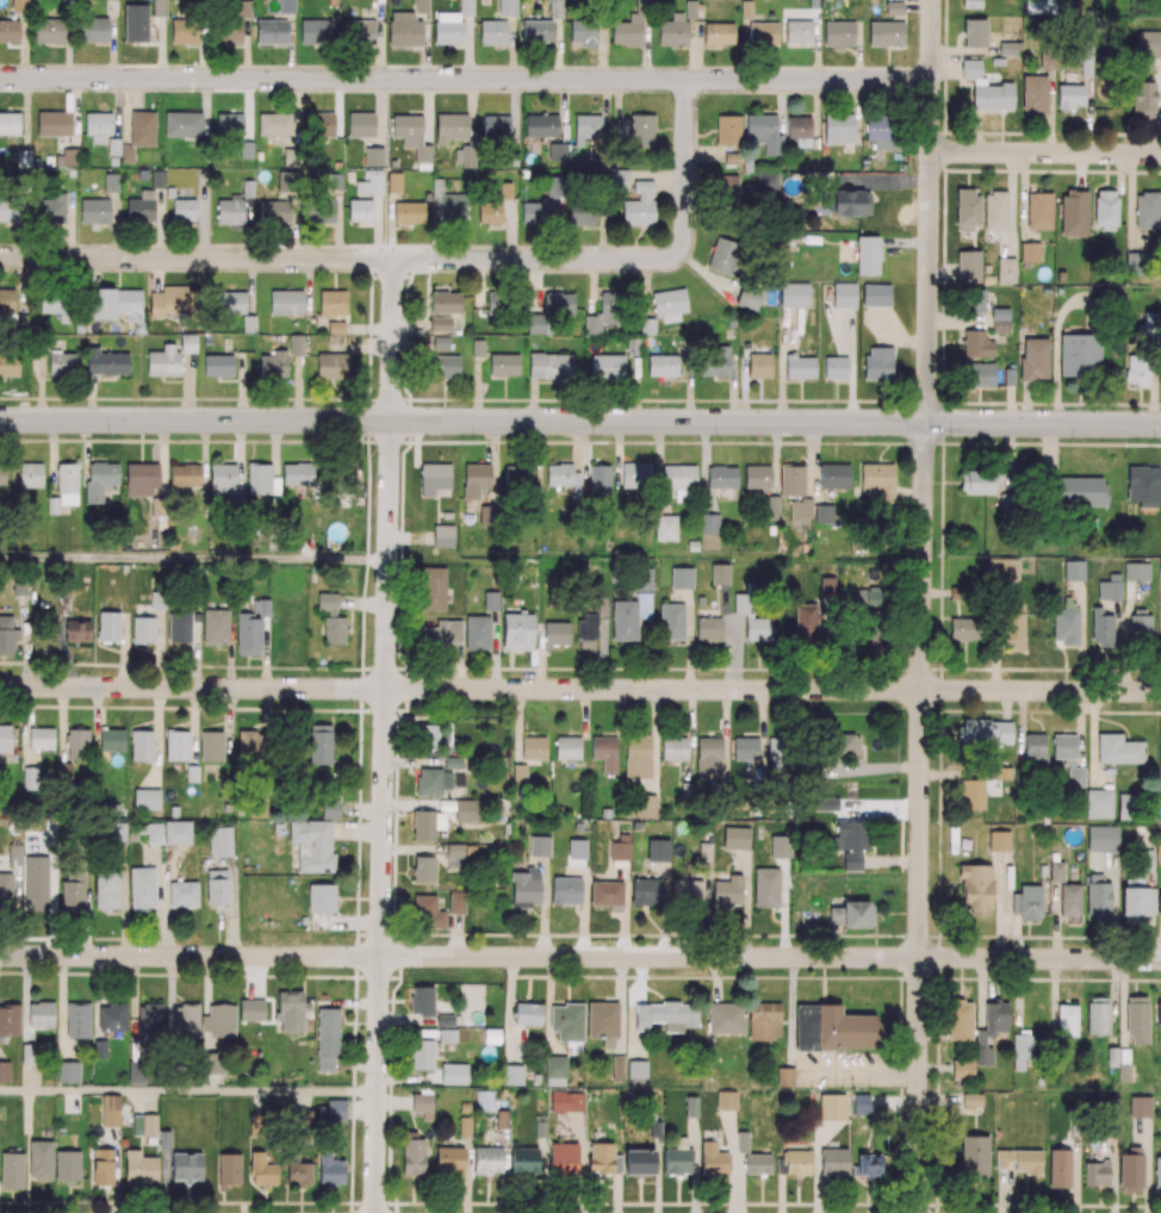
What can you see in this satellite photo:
building: (894, 7)
building: (886, 32)
road: (160, 46)
road: (111, 48)
road: (815, 50)
road: (857, 50)
road: (465, 80)
road: (337, 101)
road: (781, 106)
road: (815, 107)
road: (247, 108)
road: (427, 110)
road: (471, 111)
road: (75, 112)
road: (379, 112)
road: (513, 112)
road: (25, 113)
road: (703, 153)
road: (1045, 153)
building: (1147, 209)
building: (995, 210)
building: (1038, 210)
road: (929, 211)
road: (427, 259)
building: (968, 265)
building: (1005, 269)
road: (392, 340)
road: (580, 421)
road: (194, 560)
road: (580, 689)
road: (383, 816)
road: (919, 817)
road: (580, 957)
road: (188, 1091)
building: (39, 1159)

